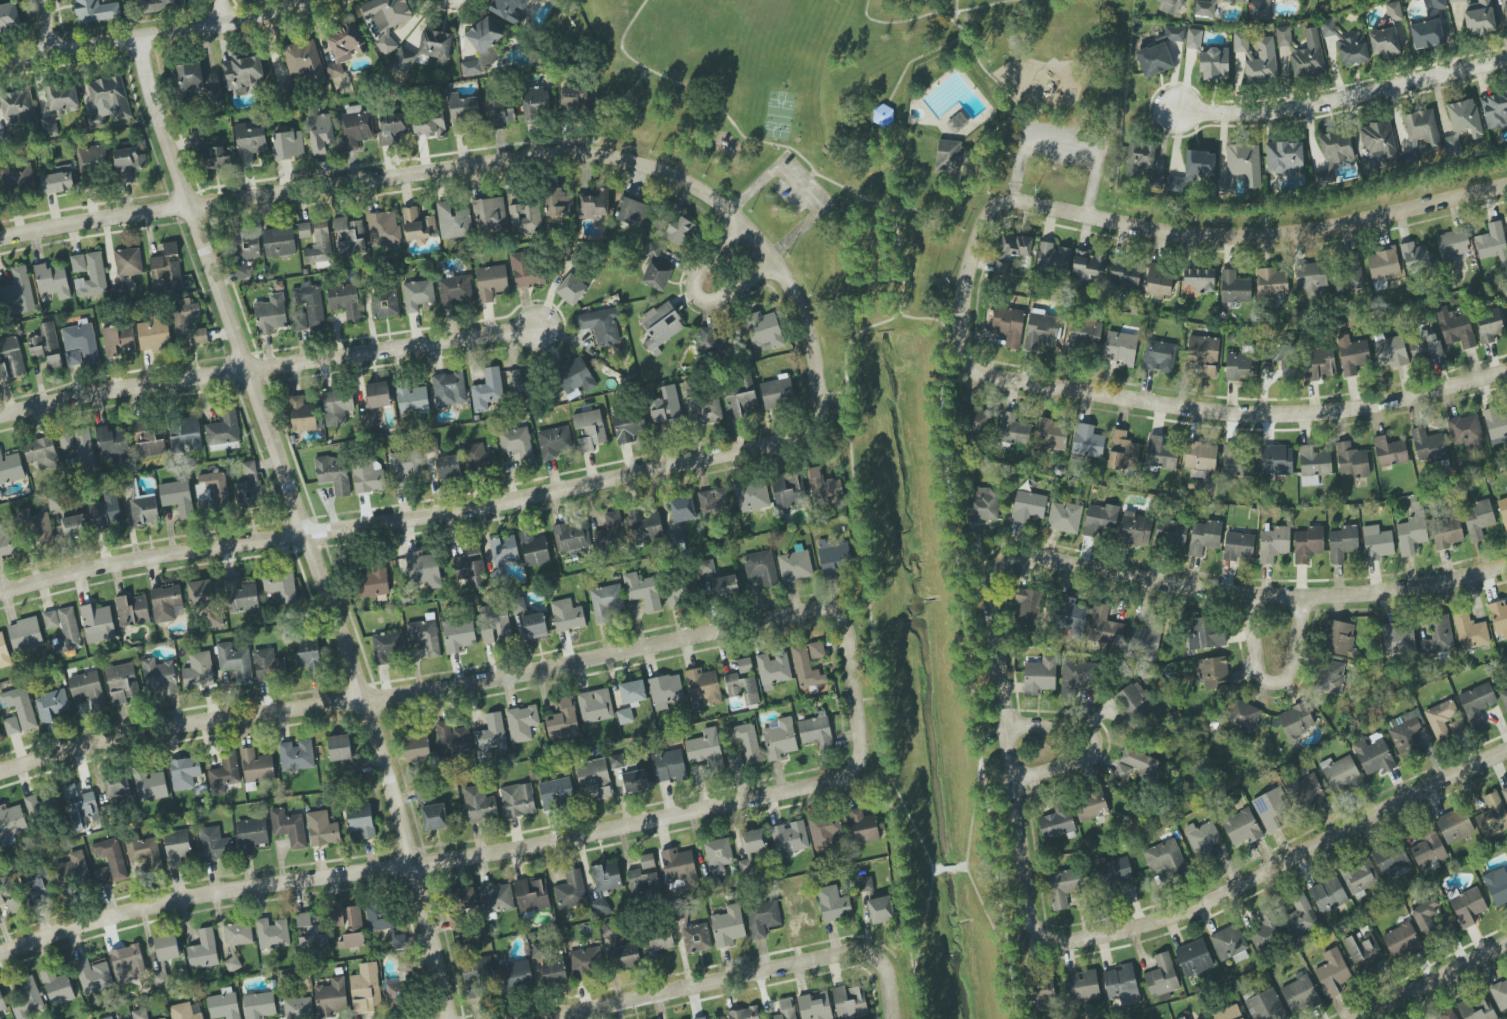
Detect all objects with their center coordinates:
building: (542, 0)
building: (1225, 0)
building: (1457, 1)
road: (449, 2)
building: (1434, 4)
building: (162, 5)
building: (1171, 6)
road: (975, 8)
building: (509, 9)
building: (1204, 9)
building: (1260, 10)
building: (1393, 11)
road: (221, 12)
road: (954, 12)
building: (1505, 14)
building: (9, 17)
building: (386, 19)
building: (1480, 19)
road: (45, 25)
building: (1328, 28)
building: (1427, 34)
road: (157, 35)
building: (1172, 35)
building: (1283, 36)
building: (1193, 39)
building: (1240, 42)
building: (1384, 42)
building: (482, 46)
building: (343, 48)
building: (1353, 50)
building: (426, 51)
building: (1308, 56)
road: (914, 59)
building: (1154, 60)
building: (303, 61)
building: (1215, 63)
building: (1262, 63)
building: (242, 73)
building: (190, 77)
building: (62, 97)
building: (575, 98)
road: (1342, 99)
building: (108, 102)
building: (535, 103)
building: (18, 105)
road: (613, 108)
building: (1495, 109)
building: (462, 111)
building: (499, 113)
park: (778, 115)
road: (1018, 120)
building: (957, 121)
park: (868, 124)
building: (1462, 124)
building: (429, 125)
building: (50, 127)
building: (356, 127)
building: (392, 128)
building: (1422, 128)
building: (320, 133)
building: (7, 137)
road: (1061, 139)
building: (249, 142)
building: (288, 144)
building: (1379, 144)
parking lot: (1062, 146)
building: (1336, 149)
building: (211, 153)
road: (598, 155)
building: (947, 155)
road: (989, 156)
building: (1284, 157)
building: (94, 159)
building: (128, 163)
building: (1142, 164)
building: (1241, 167)
building: (1194, 170)
road: (811, 174)
building: (17, 177)
building: (57, 182)
parking lot: (798, 187)
road: (802, 187)
building: (594, 204)
building: (557, 205)
road: (903, 210)
building: (632, 212)
building: (490, 213)
building: (525, 219)
building: (1506, 220)
building: (453, 221)
building: (418, 226)
building: (383, 228)
building: (679, 228)
building: (304, 230)
road: (1211, 233)
building: (349, 237)
building: (279, 241)
building: (1452, 243)
building: (1492, 243)
building: (246, 245)
building: (319, 245)
building: (1012, 250)
building: (170, 251)
building: (1416, 257)
building: (1053, 258)
road: (892, 260)
building: (78, 263)
building: (1089, 264)
building: (1383, 264)
building: (126, 269)
building: (655, 269)
building: (526, 270)
building: (166, 271)
building: (243, 271)
building: (1125, 276)
building: (92, 277)
building: (1312, 279)
building: (1159, 280)
building: (52, 281)
building: (1199, 281)
building: (491, 282)
building: (1272, 283)
building: (1234, 288)
building: (571, 289)
building: (454, 290)
building: (18, 293)
building: (418, 295)
road: (697, 296)
building: (345, 300)
building: (310, 303)
building: (385, 304)
building: (270, 314)
road: (929, 319)
building: (183, 321)
building: (299, 322)
building: (601, 325)
building: (1009, 325)
building: (661, 326)
building: (1489, 326)
road: (864, 327)
building: (1455, 328)
building: (762, 329)
building: (1040, 330)
building: (1082, 334)
building: (154, 335)
building: (201, 335)
building: (712, 339)
building: (117, 340)
building: (81, 341)
building: (46, 346)
building: (1424, 347)
building: (1120, 348)
road: (945, 350)
building: (1391, 352)
building: (1204, 353)
building: (1352, 355)
building: (1160, 356)
building: (12, 357)
building: (73, 358)
building: (1282, 359)
building: (1319, 363)
road: (267, 366)
building: (1240, 366)
building: (3, 371)
building: (575, 376)
building: (520, 384)
building: (449, 388)
road: (844, 389)
building: (487, 390)
building: (777, 392)
road: (832, 392)
building: (378, 395)
building: (412, 399)
building: (666, 405)
building: (337, 406)
road: (1194, 408)
building: (708, 411)
building: (302, 415)
building: (977, 420)
building: (1496, 425)
building: (628, 427)
building: (589, 429)
building: (1013, 429)
building: (1465, 430)
building: (223, 432)
building: (184, 433)
building: (1051, 434)
building: (148, 439)
building: (1087, 441)
building: (554, 442)
building: (113, 444)
building: (517, 444)
building: (1428, 446)
building: (78, 448)
building: (1122, 451)
building: (1390, 451)
building: (41, 452)
building: (1160, 454)
building: (478, 457)
building: (1277, 460)
building: (1352, 460)
building: (1201, 461)
building: (1236, 462)
building: (1313, 465)
building: (404, 467)
building: (10, 468)
building: (448, 468)
building: (333, 474)
building: (368, 476)
road: (949, 478)
building: (249, 487)
building: (825, 488)
building: (213, 490)
building: (788, 490)
building: (1506, 493)
building: (752, 495)
building: (177, 497)
building: (715, 502)
building: (141, 505)
building: (983, 505)
building: (1028, 507)
road: (857, 508)
building: (682, 509)
building: (105, 511)
building: (1503, 511)
building: (1064, 517)
building: (1478, 519)
building: (1101, 520)
building: (74, 526)
road: (303, 526)
building: (645, 526)
building: (38, 529)
building: (1135, 529)
building: (610, 530)
building: (1412, 532)
building: (1446, 532)
road: (302, 534)
building: (1170, 534)
building: (571, 537)
building: (1204, 537)
building: (7, 543)
building: (1274, 543)
building: (1343, 543)
building: (1376, 543)
building: (1308, 544)
building: (1239, 546)
building: (534, 549)
building: (504, 550)
building: (833, 558)
building: (795, 566)
building: (761, 567)
building: (471, 568)
building: (423, 569)
building: (373, 582)
building: (718, 583)
building: (281, 587)
building: (200, 591)
building: (643, 591)
building: (677, 594)
building: (241, 596)
road: (1274, 596)
building: (606, 602)
building: (166, 604)
building: (1028, 608)
building: (132, 611)
building: (567, 615)
building: (1069, 616)
building: (215, 619)
building: (1499, 619)
building: (50, 620)
building: (497, 620)
building: (97, 624)
building: (534, 626)
building: (1104, 627)
building: (68, 630)
building: (1471, 632)
building: (1205, 633)
building: (25, 634)
building: (425, 634)
building: (1438, 636)
building: (459, 637)
building: (487, 637)
building: (1339, 638)
building: (1398, 638)
building: (1145, 641)
building: (386, 647)
building: (816, 650)
building: (4, 652)
building: (307, 655)
road: (972, 655)
building: (235, 662)
building: (268, 664)
building: (745, 668)
building: (806, 669)
building: (198, 670)
building: (773, 670)
building: (1214, 673)
building: (1077, 675)
building: (1040, 676)
building: (1330, 676)
building: (159, 677)
road: (1270, 682)
building: (121, 683)
road: (462, 683)
road: (876, 683)
building: (703, 688)
building: (742, 688)
building: (88, 689)
building: (665, 691)
building: (632, 692)
road: (866, 697)
building: (1504, 698)
building: (1135, 701)
building: (1477, 704)
building: (51, 705)
building: (595, 705)
building: (19, 706)
building: (625, 716)
building: (1242, 717)
building: (1444, 720)
building: (563, 721)
building: (1295, 722)
building: (522, 723)
building: (12, 726)
building: (816, 732)
road: (993, 732)
building: (1407, 733)
building: (490, 735)
building: (0, 737)
building: (452, 739)
building: (780, 739)
building: (746, 742)
road: (1091, 742)
building: (417, 747)
building: (339, 748)
building: (705, 750)
building: (296, 755)
building: (1374, 755)
building: (736, 760)
building: (617, 761)
building: (1139, 762)
building: (668, 766)
building: (1122, 772)
building: (184, 773)
building: (224, 774)
building: (1341, 775)
building: (594, 777)
building: (635, 781)
building: (150, 785)
building: (116, 786)
building: (1307, 791)
building: (556, 792)
building: (1505, 794)
building: (518, 800)
building: (479, 804)
building: (80, 807)
building: (1091, 807)
building: (34, 808)
building: (1270, 808)
building: (1492, 816)
building: (434, 817)
building: (361, 821)
building: (1057, 821)
building: (11, 823)
building: (1454, 825)
building: (863, 826)
building: (289, 827)
building: (1242, 827)
building: (322, 829)
building: (824, 830)
building: (251, 834)
building: (790, 837)
building: (1202, 839)
building: (754, 841)
building: (214, 844)
building: (177, 847)
road: (995, 849)
building: (1428, 850)
building: (145, 851)
road: (896, 852)
building: (718, 855)
road: (462, 856)
building: (112, 858)
building: (1165, 858)
building: (1390, 859)
building: (647, 861)
road: (965, 861)
building: (678, 866)
building: (74, 867)
road: (960, 867)
road: (948, 868)
road: (931, 869)
road: (937, 869)
building: (1116, 874)
building: (102, 876)
building: (1359, 876)
building: (34, 882)
building: (643, 884)
building: (865, 884)
building: (605, 885)
building: (1497, 886)
building: (1063, 887)
building: (570, 890)
building: (10, 894)
building: (532, 895)
building: (1328, 895)
building: (496, 898)
building: (463, 899)
building: (833, 903)
building: (1468, 906)
building: (881, 910)
building: (1300, 916)
building: (1427, 917)
building: (763, 918)
building: (453, 921)
building: (383, 922)
building: (349, 926)
building: (728, 926)
building: (1266, 931)
building: (311, 933)
building: (238, 934)
building: (272, 934)
building: (696, 938)
road: (1084, 939)
building: (1401, 941)
building: (658, 942)
building: (1229, 944)
building: (203, 950)
building: (621, 950)
building: (541, 951)
building: (1363, 951)
building: (165, 956)
building: (1194, 958)
building: (586, 961)
building: (128, 963)
building: (232, 964)
building: (555, 973)
building: (1332, 973)
road: (912, 974)
building: (93, 975)
building: (516, 975)
road: (733, 976)
building: (1161, 976)
building: (478, 977)
road: (1435, 982)
building: (1122, 985)
building: (1082, 986)
building: (57, 987)
building: (365, 988)
building: (1042, 991)
road: (1011, 992)
building: (1300, 993)
building: (398, 994)
building: (1500, 995)
building: (331, 998)
building: (27, 1000)
building: (850, 1002)
building: (224, 1004)
building: (259, 1005)
building: (1266, 1005)
building: (815, 1006)
building: (299, 1008)
building: (786, 1009)
building: (1477, 1009)
building: (183, 1012)
building: (744, 1013)
building: (1229, 1013)
building: (140, 1014)
building: (1448, 1014)
building: (108, 1017)
building: (165, 1018)
building: (701, 1018)
building: (1183, 1018)

